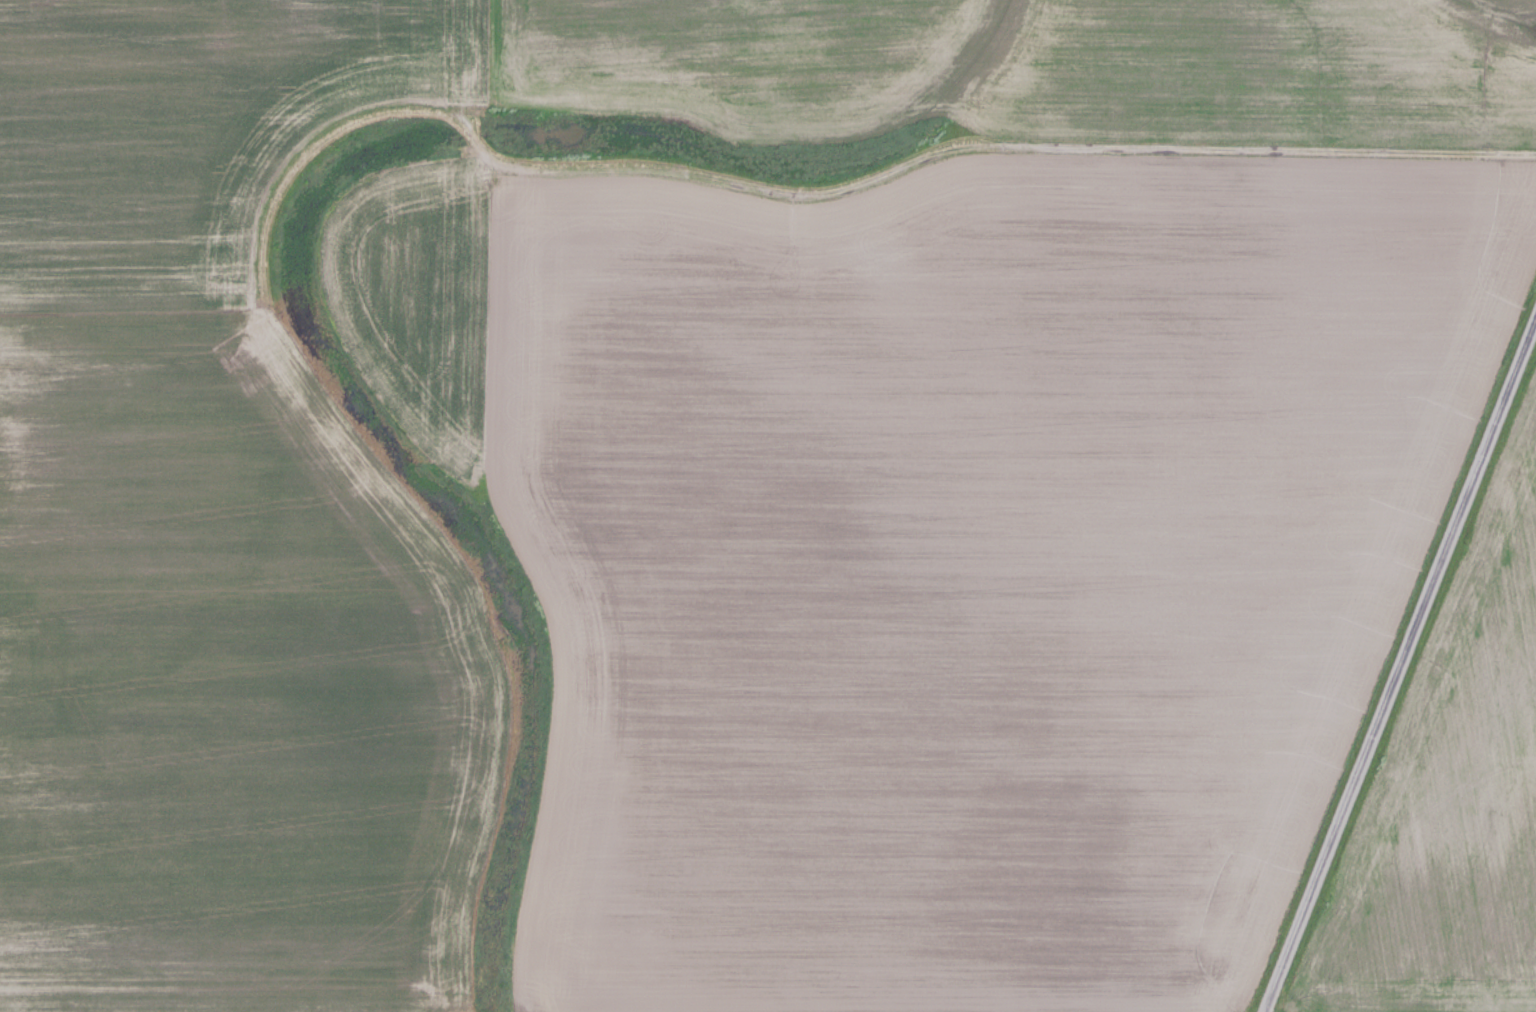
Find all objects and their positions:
road: (1372, 567)

